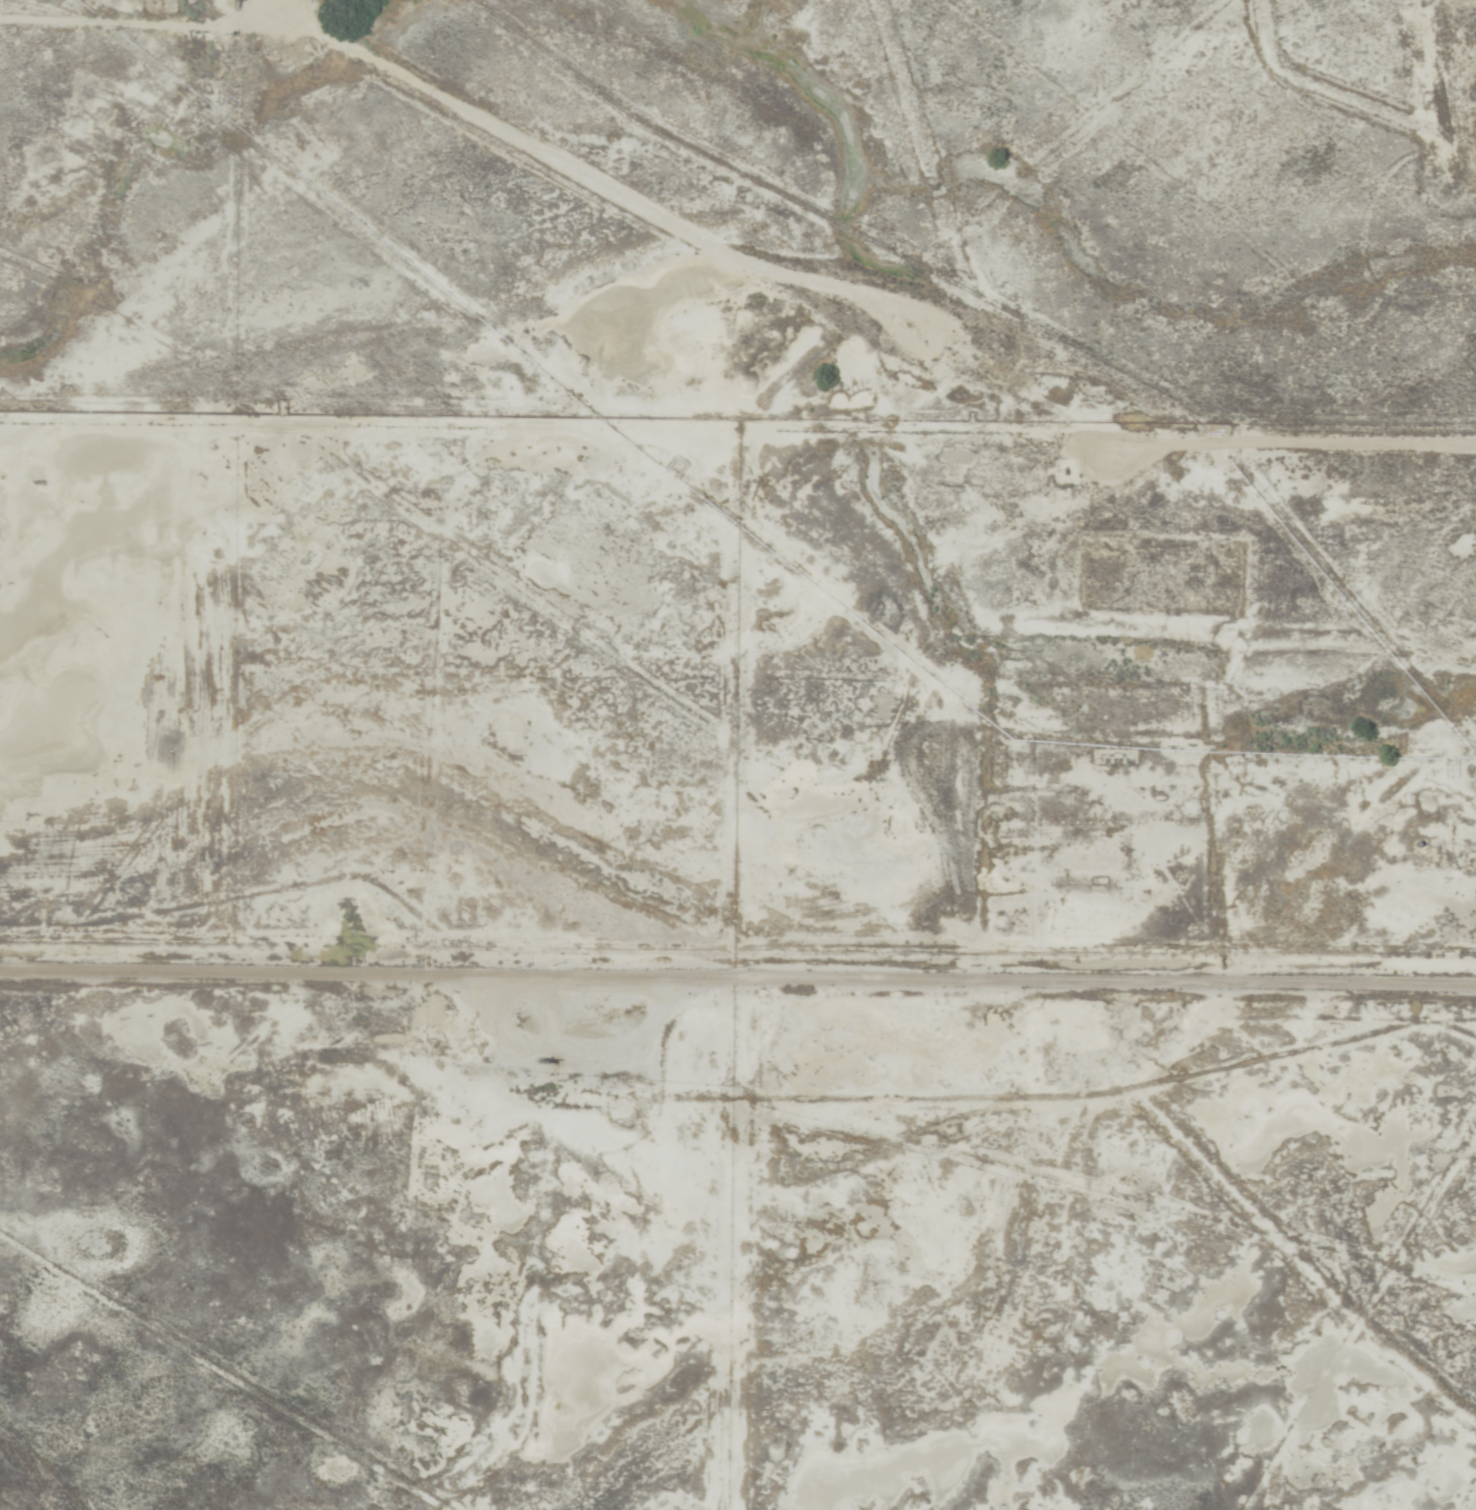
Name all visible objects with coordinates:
road: (737, 977)

